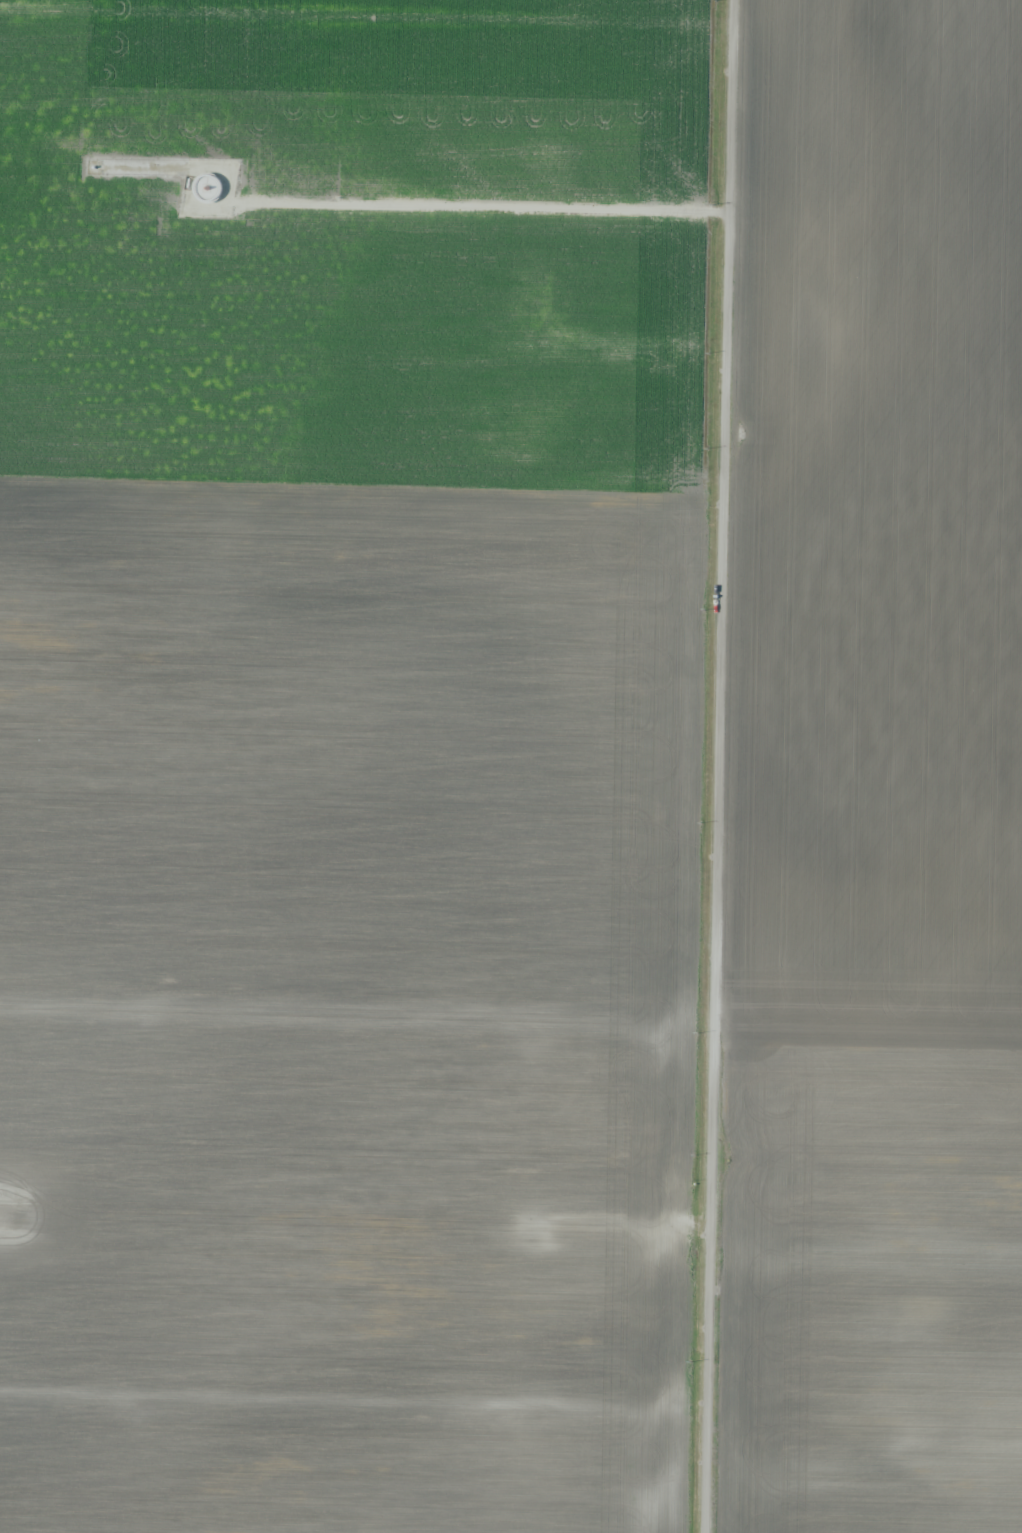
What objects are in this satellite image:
road: (725, 766)

